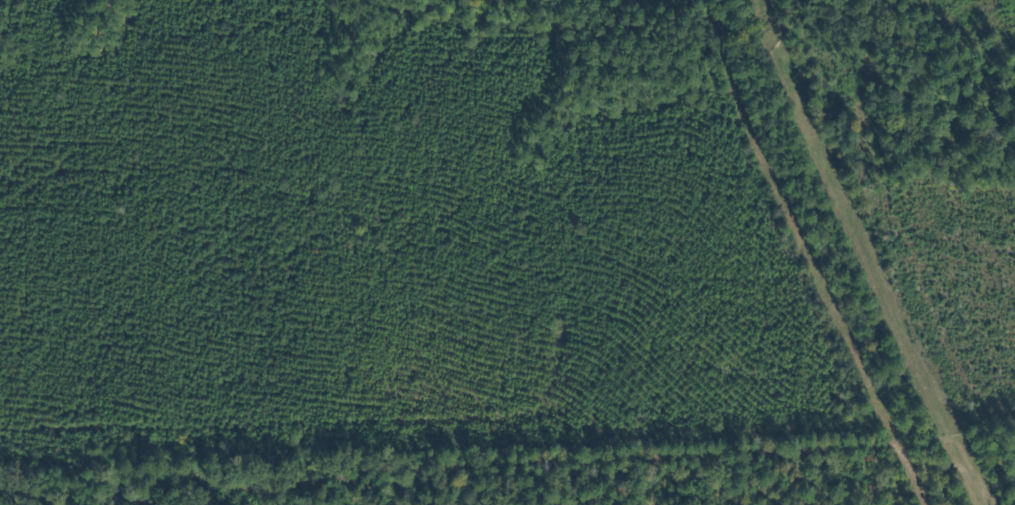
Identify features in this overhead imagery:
road: (837, 267)

